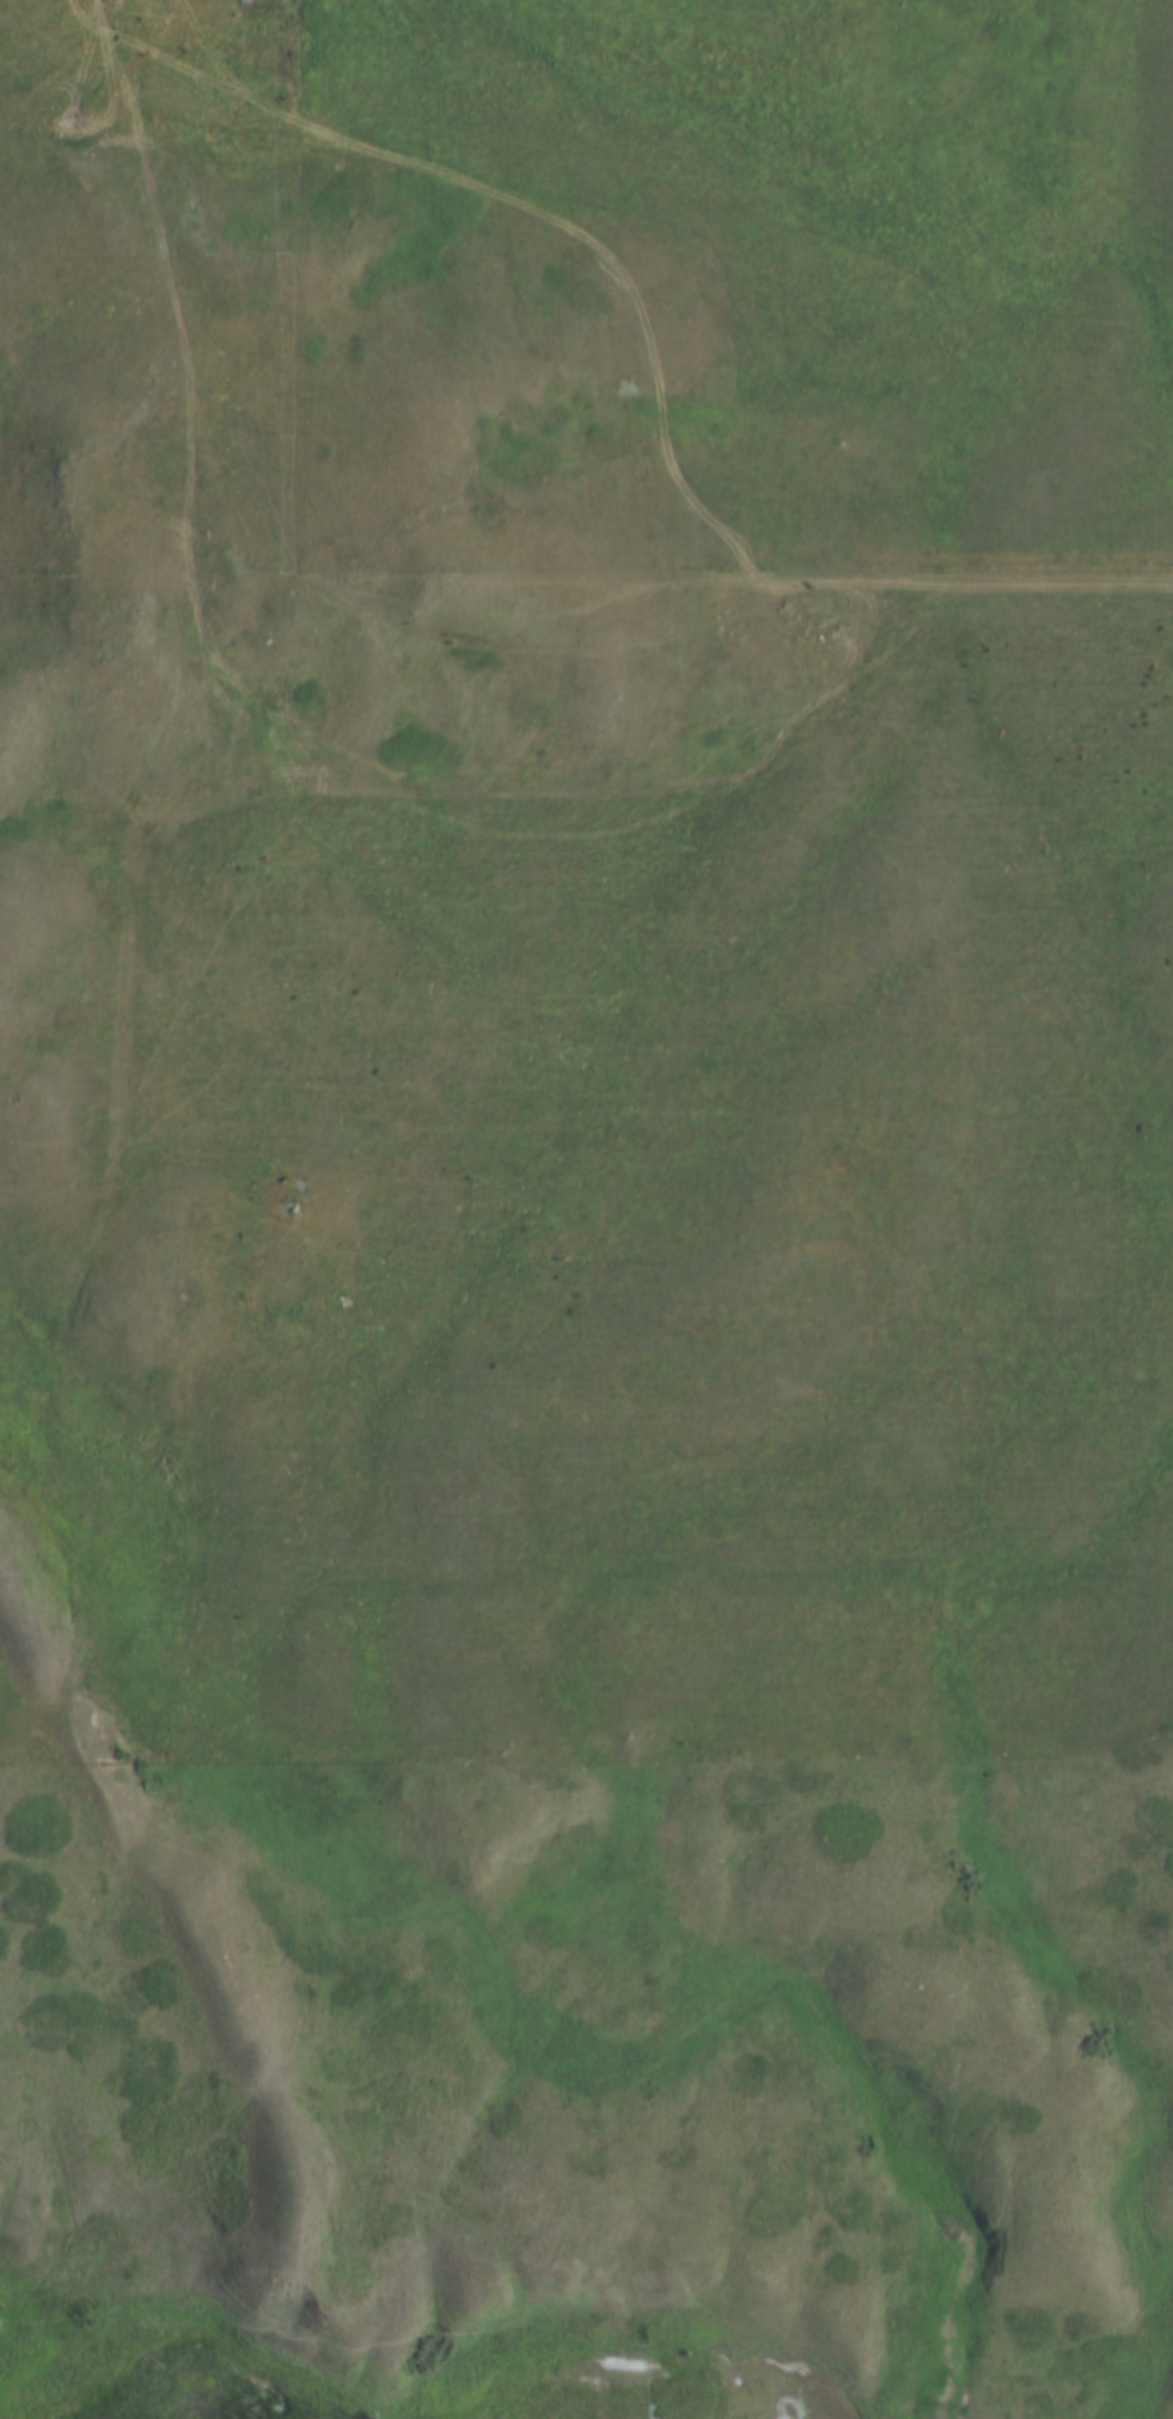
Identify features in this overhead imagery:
road: (640, 305)
building: (297, 1201)

